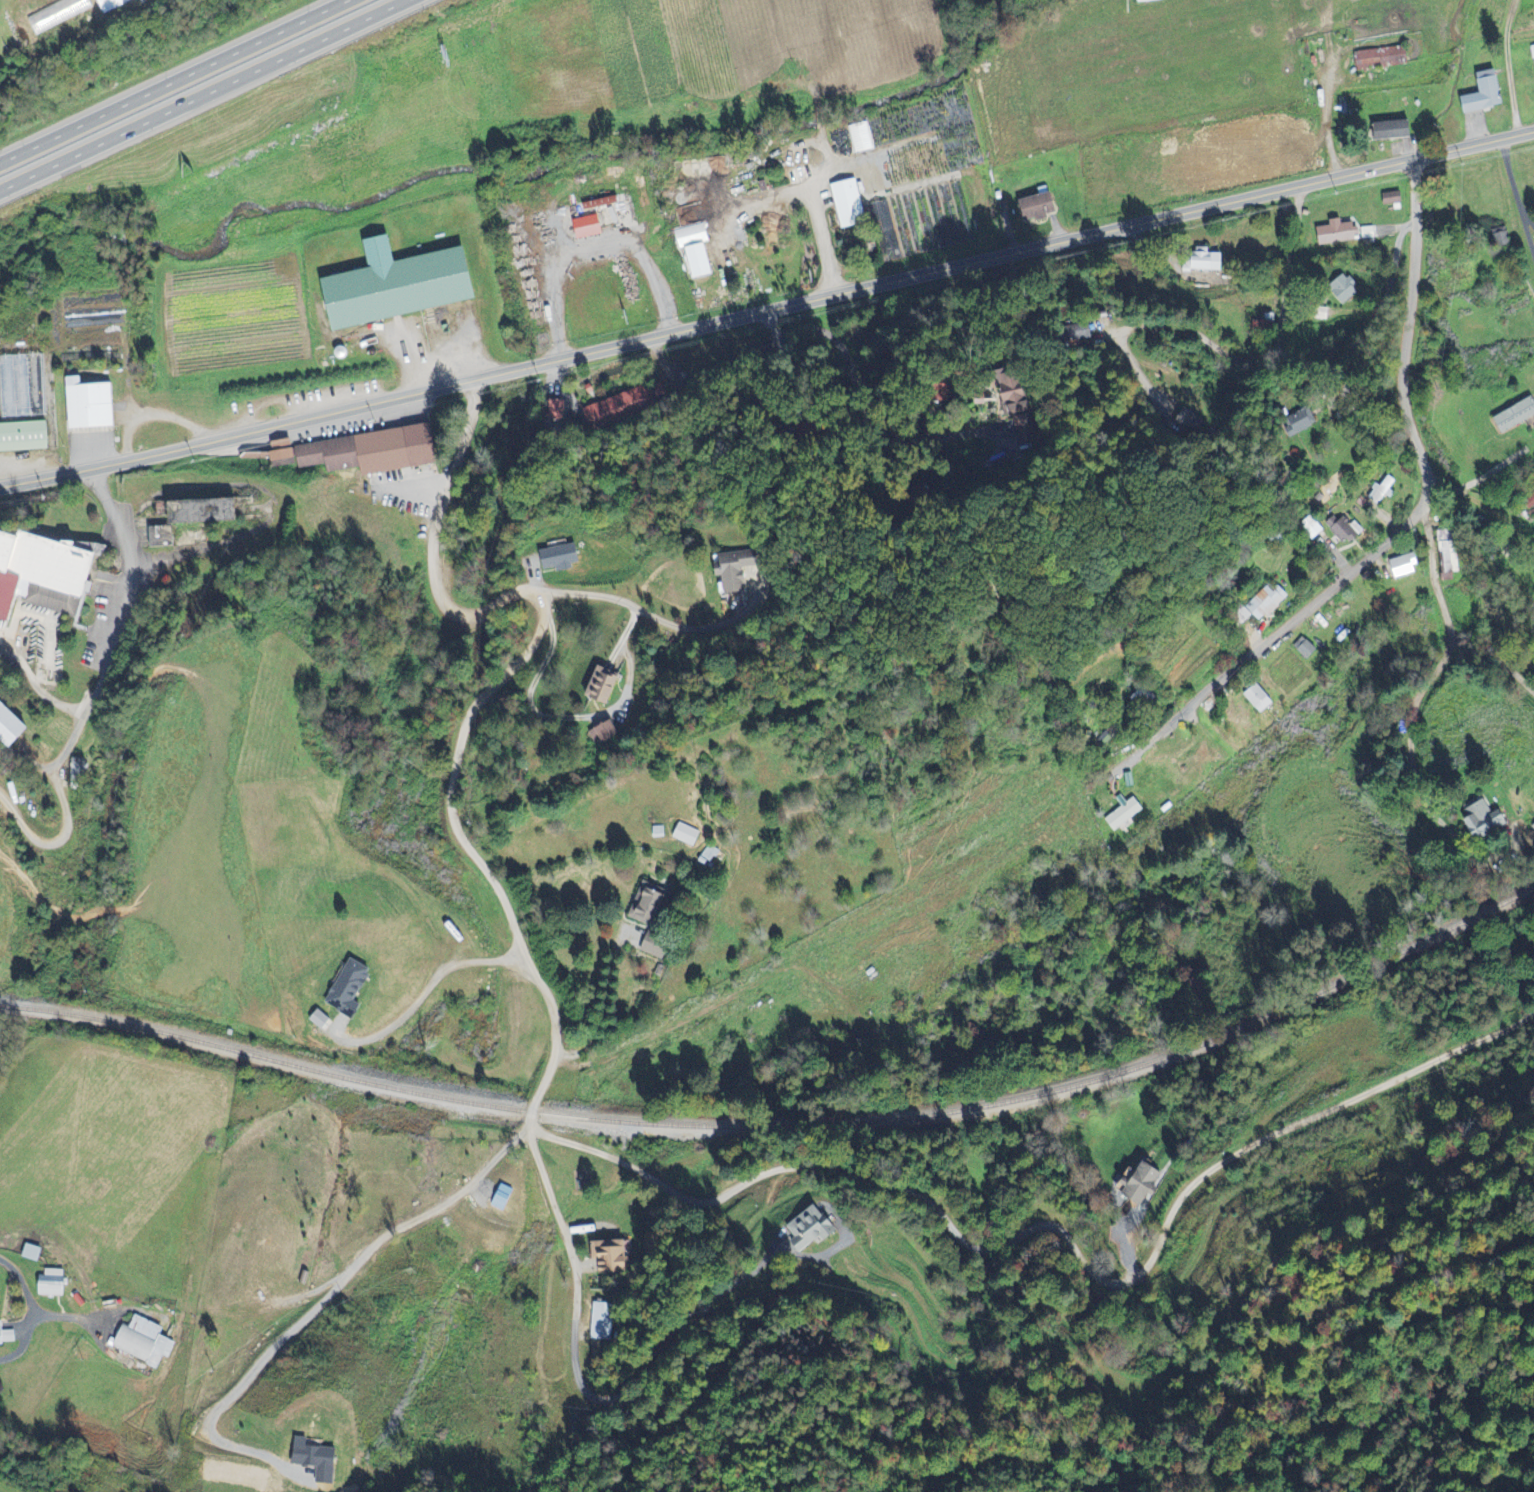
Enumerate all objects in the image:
building: (1149, 1)
building: (109, 3)
building: (1532, 53)
building: (1384, 58)
road: (1511, 66)
road: (175, 82)
building: (1487, 95)
road: (208, 97)
building: (1400, 130)
building: (861, 139)
road: (1477, 144)
building: (1395, 199)
building: (851, 205)
building: (1042, 207)
building: (1344, 233)
building: (693, 236)
building: (1504, 237)
building: (701, 262)
building: (1206, 262)
building: (403, 286)
building: (1346, 288)
road: (711, 325)
road: (1362, 328)
road: (1266, 359)
building: (20, 388)
building: (1020, 401)
building: (91, 405)
building: (624, 406)
road: (838, 406)
building: (557, 410)
building: (1517, 417)
building: (1028, 429)
building: (25, 437)
building: (361, 452)
building: (1382, 491)
road: (1469, 493)
road: (1406, 524)
building: (1347, 531)
building: (563, 558)
building: (1406, 566)
building: (736, 569)
building: (44, 575)
building: (1264, 604)
road: (646, 612)
road: (1440, 634)
road: (114, 646)
building: (1308, 649)
building: (606, 687)
building: (1258, 699)
road: (572, 717)
building: (13, 727)
building: (606, 732)
building: (79, 771)
road: (66, 808)
building: (1127, 815)
building: (1488, 820)
building: (688, 835)
road: (471, 850)
building: (652, 906)
building: (659, 948)
building: (353, 990)
road: (426, 990)
road: (606, 1000)
building: (322, 1020)
railway: (783, 1125)
building: (1143, 1184)
building: (813, 1231)
road: (1063, 1243)
building: (34, 1253)
building: (610, 1256)
building: (55, 1283)
road: (31, 1309)
building: (603, 1321)
building: (7, 1336)
building: (146, 1342)
road: (1085, 1380)
building: (1, 1486)

